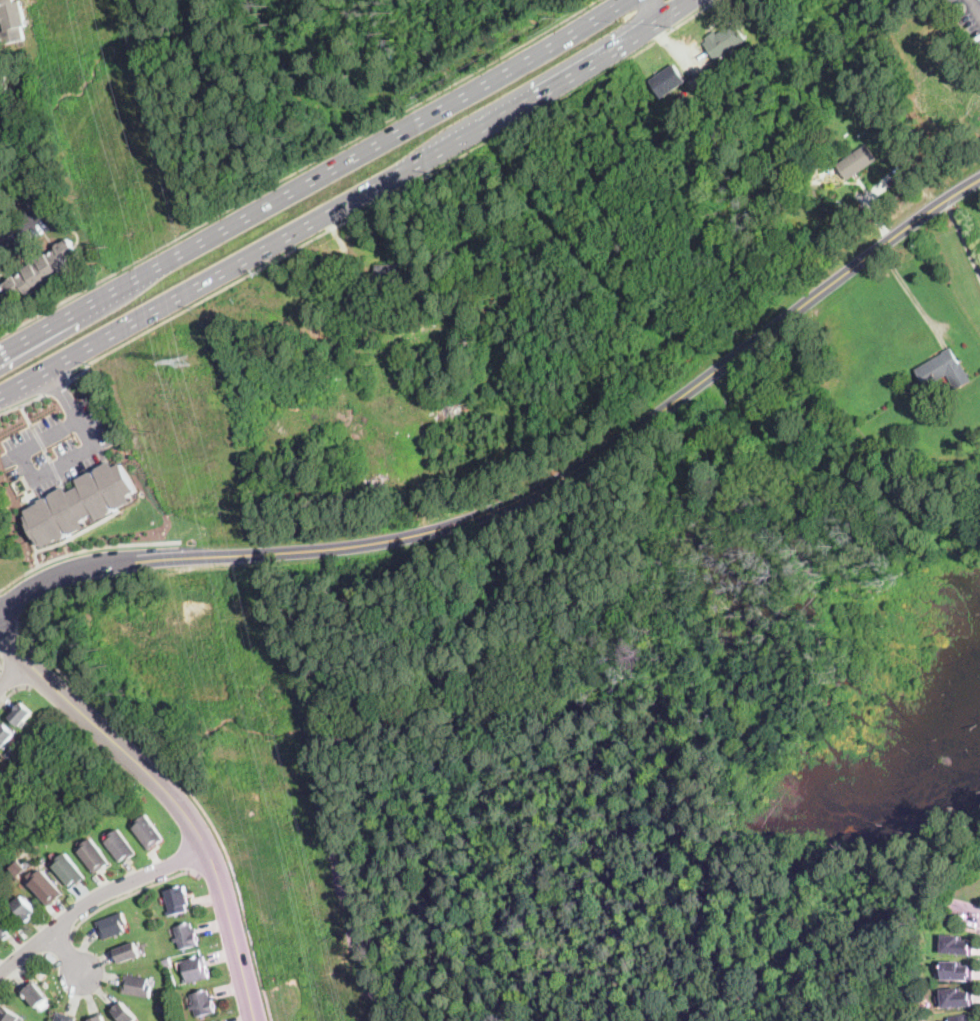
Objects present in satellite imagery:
road: (976, 5)
road: (658, 9)
parking lot: (969, 15)
building: (13, 20)
building: (724, 41)
building: (667, 80)
building: (3, 83)
building: (856, 100)
building: (855, 162)
road: (297, 168)
road: (311, 177)
road: (391, 193)
road: (349, 202)
road: (19, 219)
parking lot: (21, 227)
road: (962, 238)
power tower: (104, 247)
building: (42, 270)
building: (388, 274)
road: (368, 284)
road: (911, 296)
building: (291, 318)
road: (74, 322)
building: (369, 327)
power tower: (182, 359)
building: (944, 370)
road: (56, 386)
road: (62, 395)
road: (22, 402)
road: (25, 414)
power tower: (150, 431)
road: (91, 448)
parking lot: (55, 449)
road: (529, 496)
building: (80, 503)
road: (86, 550)
road: (9, 611)
road: (1, 663)
road: (10, 675)
road: (13, 675)
road: (10, 695)
building: (22, 715)
building: (5, 736)
road: (190, 792)
road: (173, 797)
building: (148, 831)
building: (120, 845)
building: (94, 856)
road: (212, 865)
building: (21, 866)
building: (69, 870)
building: (46, 886)
road: (130, 894)
road: (95, 897)
building: (177, 900)
building: (26, 907)
road: (961, 912)
building: (113, 925)
building: (6, 926)
building: (186, 936)
road: (61, 944)
building: (955, 945)
road: (67, 952)
building: (127, 952)
building: (168, 962)
road: (25, 967)
building: (195, 970)
building: (956, 971)
building: (137, 986)
building: (34, 994)
building: (956, 998)
building: (203, 1004)
building: (164, 1006)
building: (124, 1013)
building: (9, 1015)
building: (64, 1017)
building: (96, 1018)
building: (960, 1018)
building: (219, 1020)

